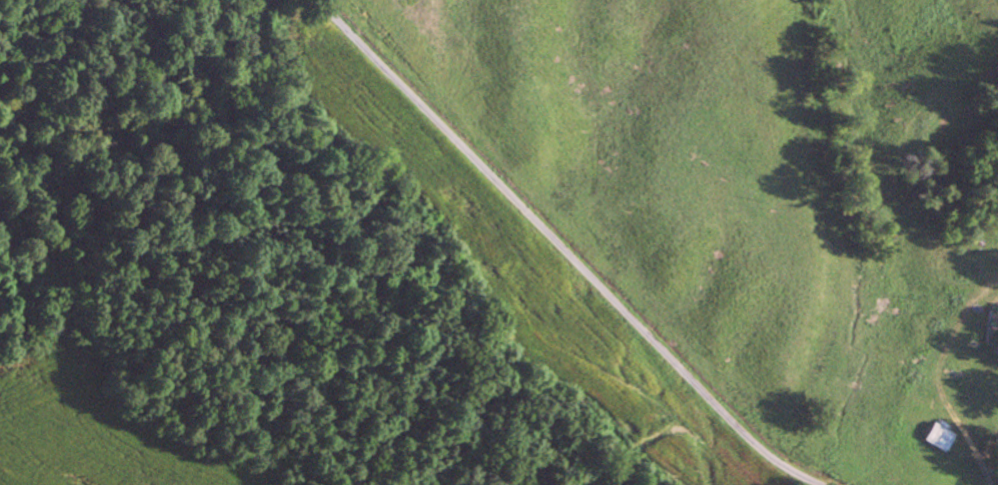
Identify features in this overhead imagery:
road: (567, 250)

